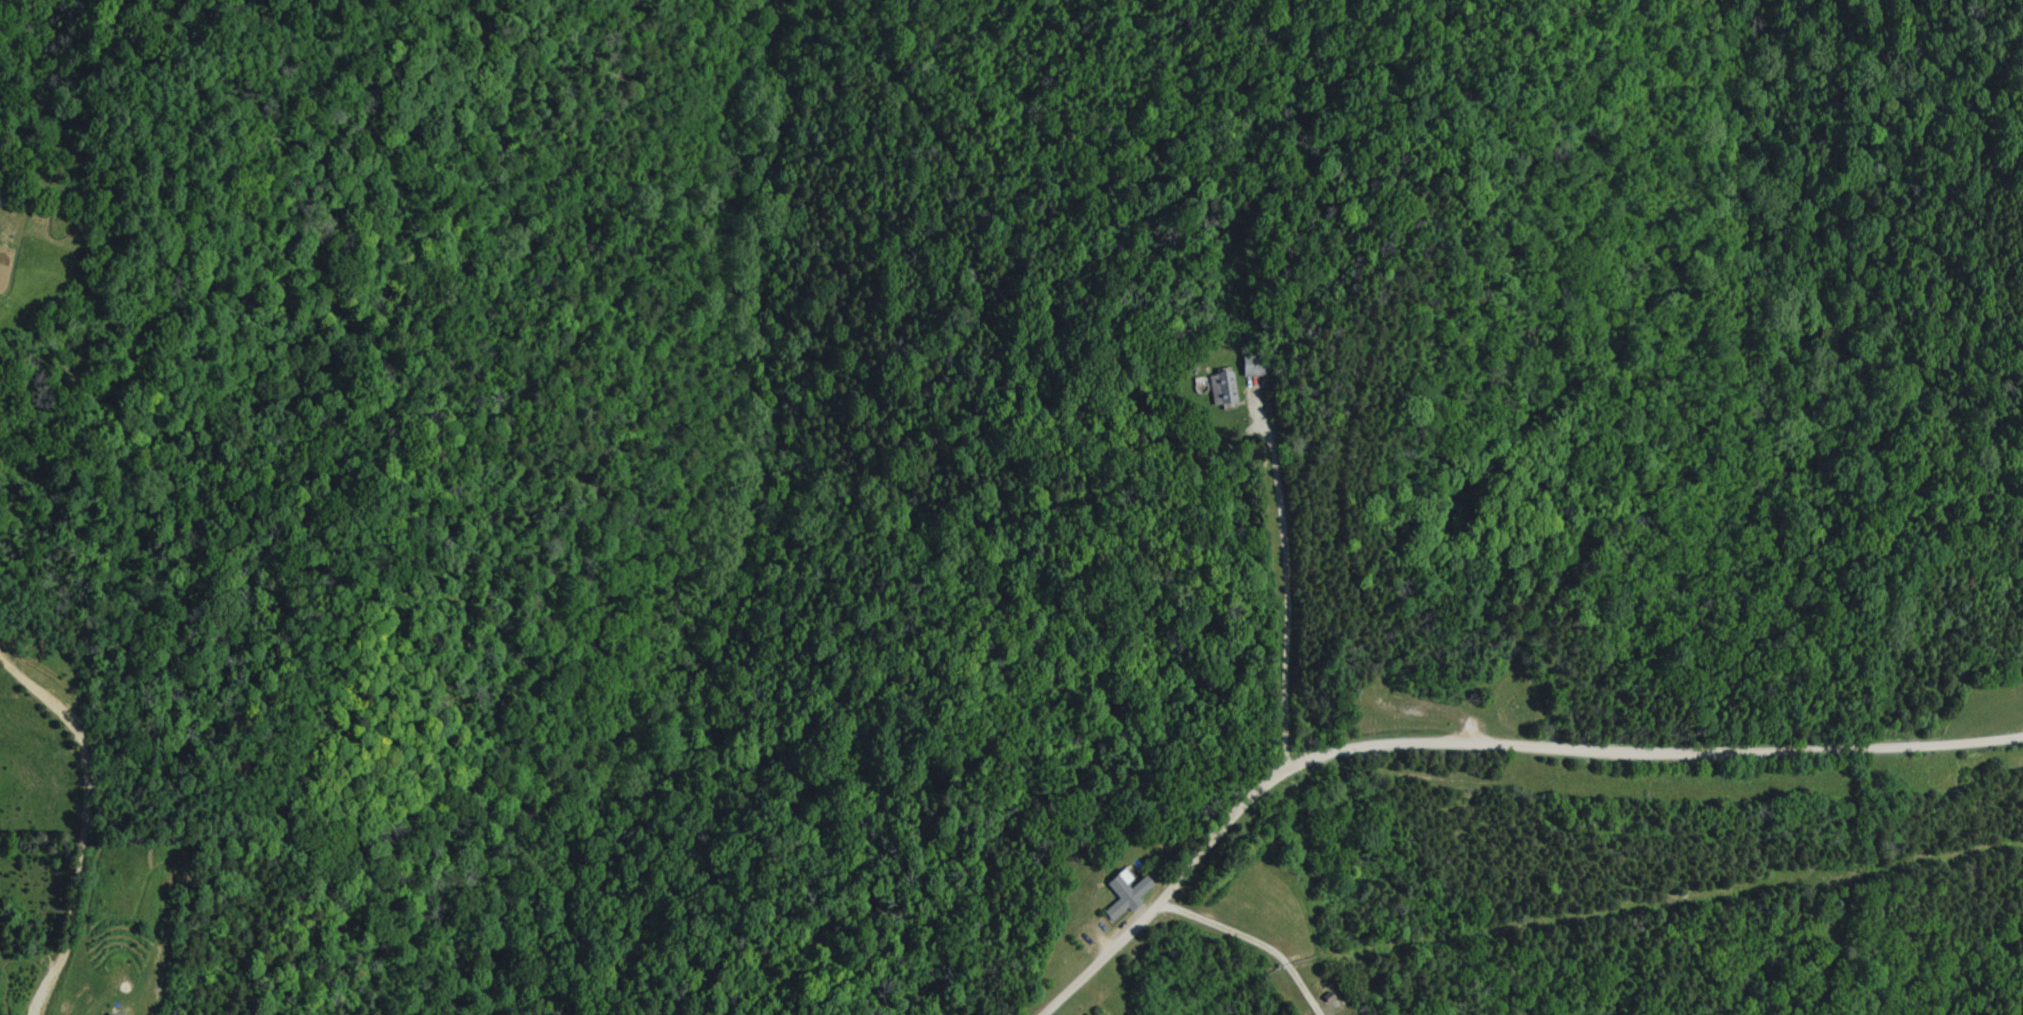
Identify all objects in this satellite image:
crop: (31, 265)
building: (1242, 366)
building: (1220, 387)
road: (1293, 606)
crop: (33, 729)
road: (1495, 763)
road: (85, 825)
building: (1122, 892)
building: (114, 1013)

